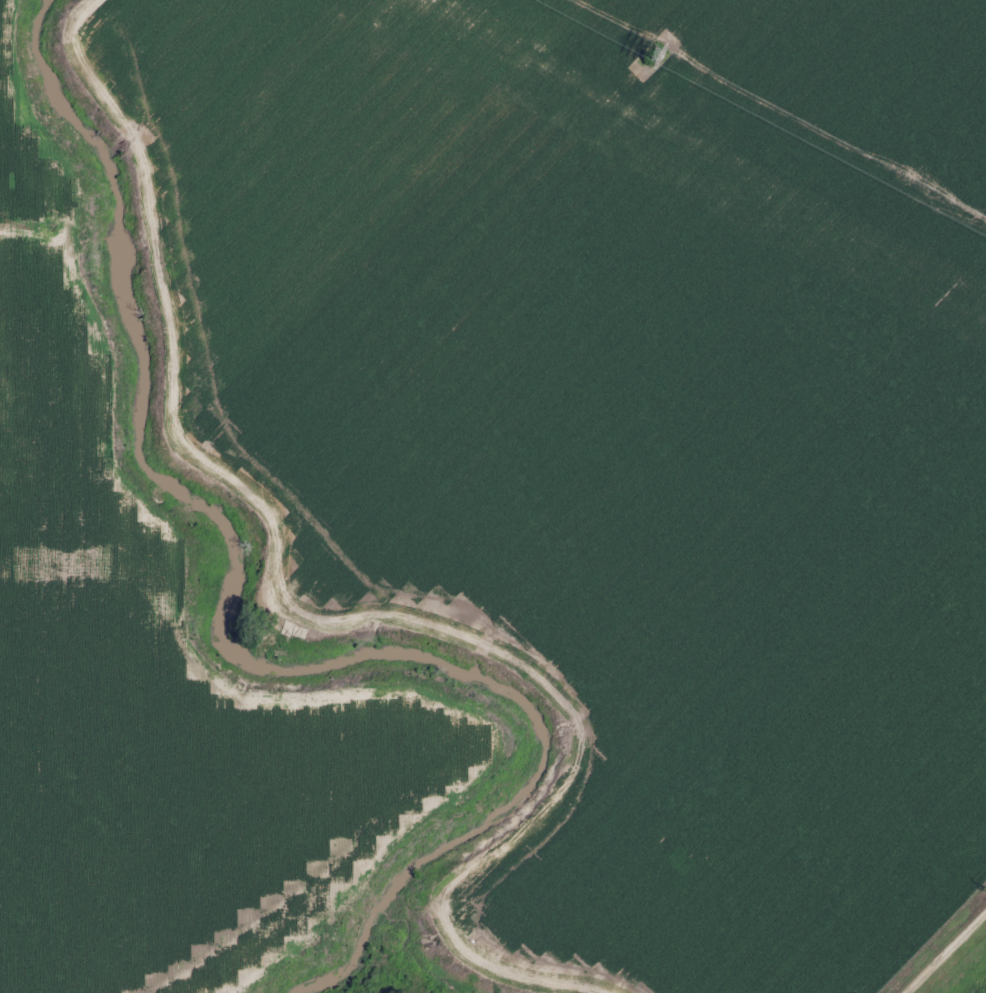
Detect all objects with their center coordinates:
power tower: (655, 55)

